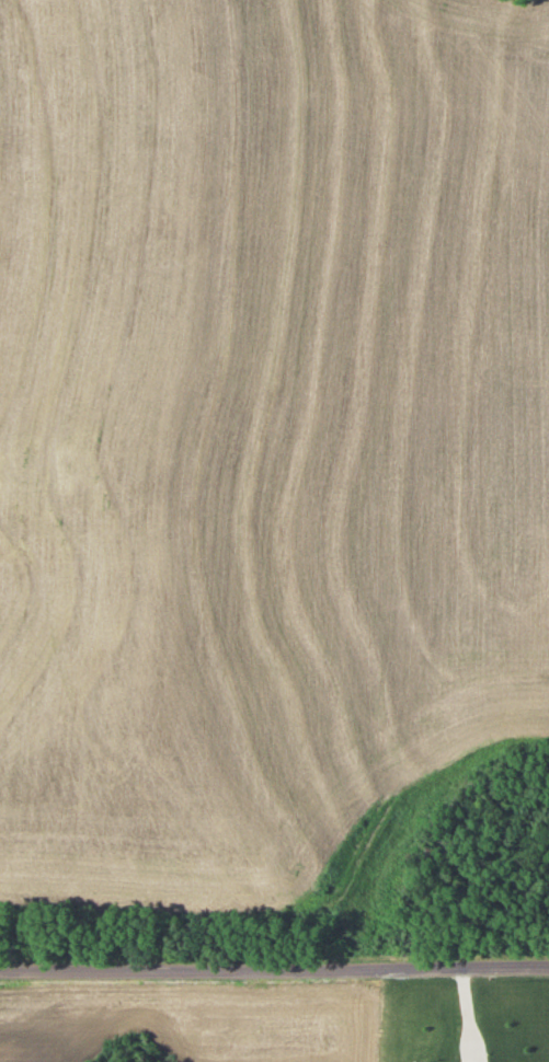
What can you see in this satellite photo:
crop: (266, 440)
road: (274, 962)
crop: (193, 1021)

